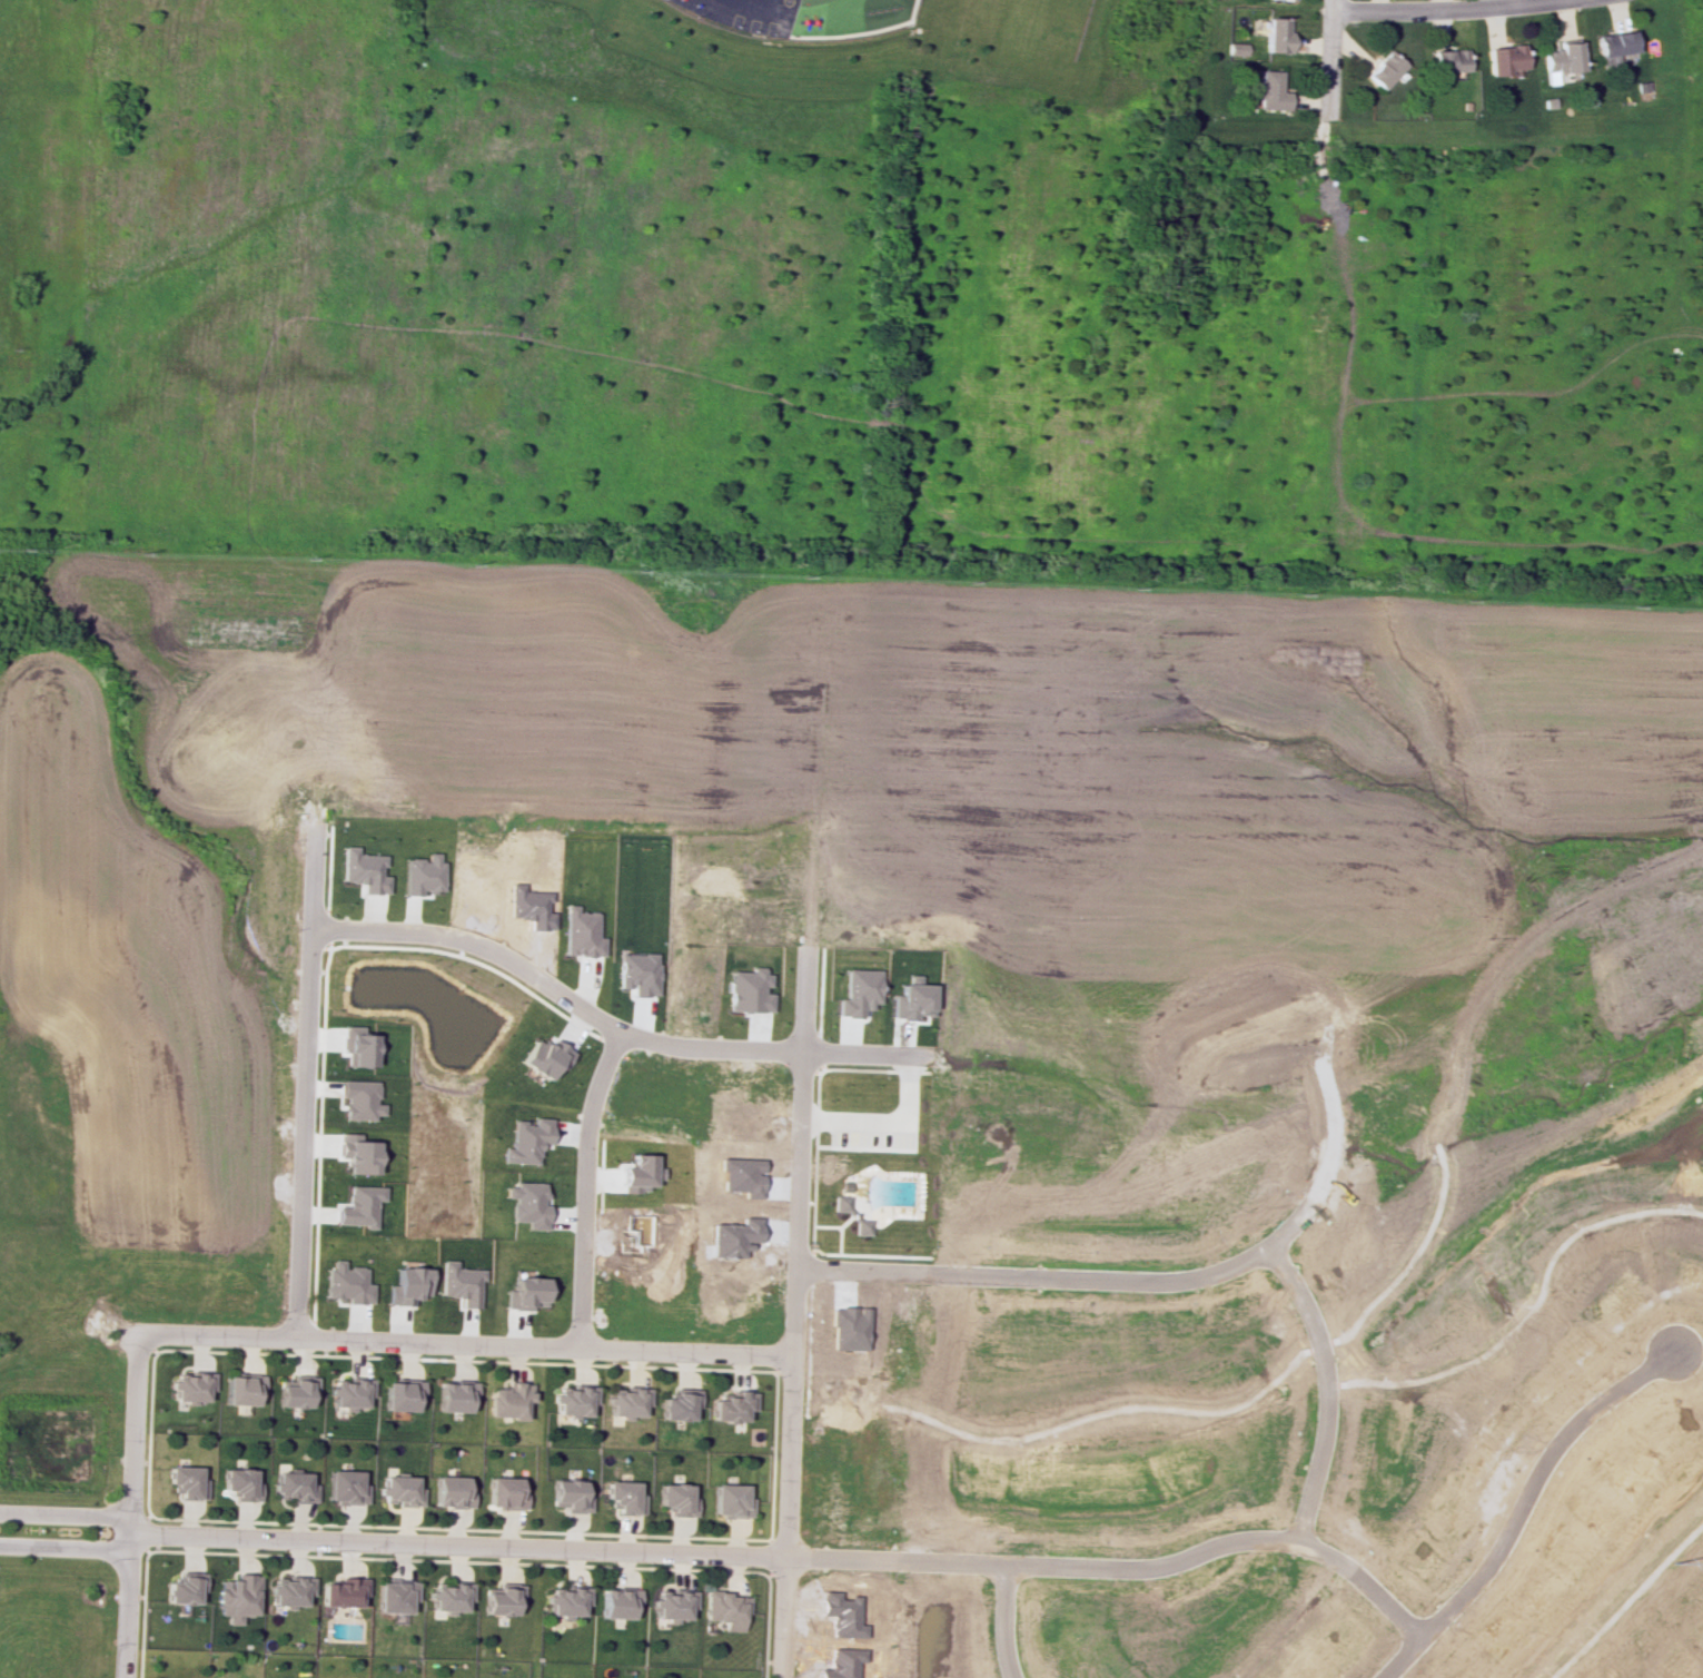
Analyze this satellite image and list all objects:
road: (1447, 10)
park: (1030, 29)
road: (861, 32)
building: (1276, 34)
building: (1613, 43)
building: (1236, 49)
building: (1560, 58)
building: (1502, 59)
road: (1328, 60)
building: (1446, 60)
building: (1384, 70)
building: (1269, 91)
road: (613, 667)
road: (316, 685)
road: (811, 756)
building: (363, 870)
building: (420, 875)
building: (581, 932)
building: (637, 973)
building: (749, 990)
building: (859, 991)
building: (912, 999)
road: (610, 1026)
building: (358, 1048)
building: (544, 1057)
road: (303, 1082)
building: (359, 1099)
road: (887, 1122)
parking lot: (872, 1137)
building: (526, 1141)
building: (358, 1156)
building: (638, 1173)
building: (844, 1185)
road: (584, 1188)
road: (852, 1194)
building: (526, 1204)
building: (358, 1206)
building: (851, 1214)
road: (1067, 1277)
building: (346, 1283)
building: (459, 1283)
building: (407, 1285)
building: (524, 1293)
road: (1534, 1305)
road: (792, 1311)
road: (1328, 1315)
road: (1334, 1341)
road: (1321, 1344)
road: (462, 1345)
building: (189, 1386)
building: (241, 1389)
road: (1326, 1389)
building: (296, 1392)
building: (348, 1394)
building: (400, 1394)
building: (454, 1395)
building: (507, 1400)
building: (572, 1401)
building: (625, 1402)
building: (679, 1404)
building: (731, 1406)
road: (1107, 1411)
building: (185, 1482)
building: (239, 1483)
building: (291, 1487)
building: (344, 1487)
building: (399, 1491)
building: (450, 1492)
building: (504, 1493)
building: (568, 1496)
building: (623, 1497)
building: (675, 1499)
building: (730, 1500)
road: (129, 1506)
road: (66, 1514)
road: (1515, 1514)
road: (66, 1549)
road: (793, 1556)
power tower: (1667, 1560)
building: (181, 1588)
building: (288, 1591)
building: (340, 1592)
building: (394, 1596)
building: (236, 1597)
building: (448, 1597)
building: (502, 1599)
road: (1628, 1600)
building: (565, 1602)
building: (617, 1602)
building: (672, 1605)
building: (725, 1609)
road: (1002, 1621)

